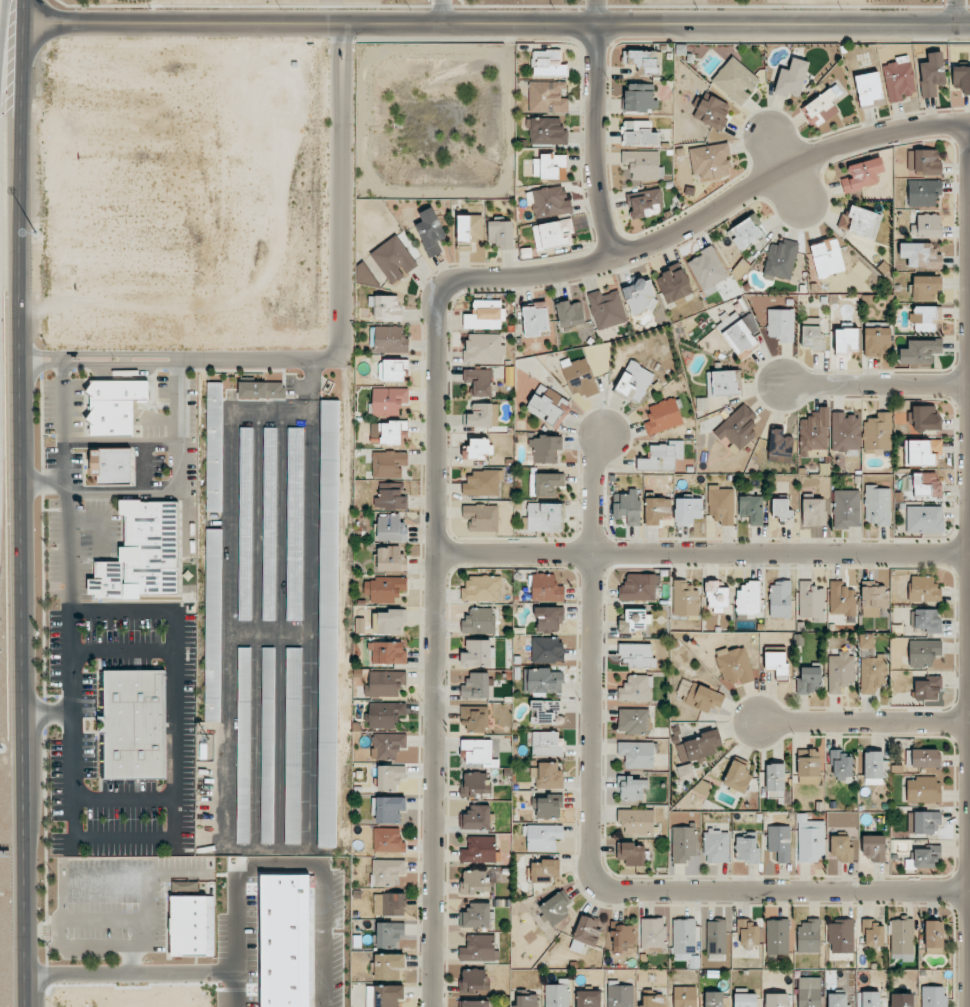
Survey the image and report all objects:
road: (441, 11)
road: (594, 12)
road: (954, 12)
road: (497, 23)
road: (342, 32)
road: (341, 42)
building: (643, 60)
building: (548, 63)
building: (932, 74)
building: (792, 78)
building: (962, 78)
building: (899, 79)
building: (736, 80)
building: (869, 90)
building: (547, 97)
building: (640, 97)
building: (822, 107)
building: (712, 111)
building: (546, 131)
building: (639, 133)
road: (594, 141)
building: (710, 161)
building: (924, 161)
building: (548, 165)
building: (862, 174)
road: (0, 181)
building: (924, 192)
building: (548, 201)
building: (645, 203)
road: (706, 216)
building: (860, 222)
building: (927, 226)
building: (430, 231)
building: (469, 231)
building: (747, 231)
building: (501, 234)
building: (553, 234)
building: (920, 255)
building: (827, 258)
building: (394, 259)
building: (781, 260)
building: (708, 269)
building: (675, 285)
building: (926, 287)
road: (342, 296)
building: (640, 296)
building: (387, 307)
building: (607, 309)
building: (570, 314)
building: (485, 315)
building: (535, 318)
building: (781, 324)
building: (812, 333)
building: (737, 334)
building: (390, 339)
building: (846, 339)
building: (877, 341)
building: (484, 349)
building: (920, 351)
road: (126, 359)
road: (178, 359)
building: (393, 370)
building: (579, 377)
building: (479, 381)
building: (635, 381)
road: (877, 381)
building: (723, 382)
building: (262, 390)
building: (389, 400)
building: (115, 406)
building: (548, 406)
building: (479, 415)
building: (663, 416)
building: (926, 418)
road: (162, 419)
road: (180, 424)
building: (738, 428)
building: (845, 431)
building: (814, 434)
road: (122, 442)
building: (214, 446)
building: (780, 446)
building: (478, 448)
building: (545, 449)
building: (922, 452)
building: (662, 456)
building: (388, 464)
building: (112, 466)
building: (482, 483)
road: (43, 484)
building: (545, 484)
building: (927, 485)
road: (124, 490)
building: (391, 496)
road: (22, 503)
building: (721, 504)
road: (967, 504)
building: (877, 505)
road: (310, 506)
building: (628, 508)
building: (846, 508)
building: (752, 509)
building: (781, 509)
building: (657, 510)
building: (688, 510)
building: (814, 512)
building: (481, 516)
building: (544, 517)
road: (189, 519)
building: (924, 519)
road: (100, 520)
building: (245, 523)
building: (269, 523)
building: (295, 523)
building: (391, 528)
road: (702, 551)
building: (142, 554)
building: (391, 559)
building: (639, 587)
building: (385, 588)
building: (482, 588)
building: (546, 588)
building: (923, 589)
building: (716, 596)
building: (748, 597)
building: (685, 599)
building: (780, 599)
building: (841, 599)
building: (873, 599)
building: (812, 602)
road: (70, 603)
road: (123, 611)
building: (549, 619)
building: (927, 620)
building: (479, 621)
building: (634, 621)
building: (389, 622)
building: (328, 623)
building: (213, 624)
building: (866, 640)
road: (434, 648)
road: (123, 649)
building: (547, 649)
building: (387, 652)
building: (923, 652)
building: (477, 653)
building: (868, 653)
building: (636, 655)
road: (593, 661)
building: (777, 663)
building: (735, 666)
building: (840, 672)
building: (872, 673)
building: (543, 680)
building: (809, 680)
building: (385, 683)
building: (477, 686)
building: (927, 688)
building: (636, 689)
building: (699, 695)
road: (48, 711)
building: (545, 712)
building: (385, 714)
building: (474, 717)
building: (633, 721)
road: (861, 721)
building: (135, 724)
road: (176, 733)
building: (547, 743)
building: (244, 745)
building: (268, 745)
building: (293, 745)
building: (387, 745)
building: (698, 746)
building: (478, 752)
building: (636, 754)
building: (924, 757)
building: (841, 764)
building: (809, 766)
building: (873, 768)
building: (548, 775)
building: (737, 776)
building: (390, 777)
building: (775, 780)
building: (475, 784)
building: (631, 788)
building: (923, 789)
road: (124, 799)
building: (549, 806)
building: (388, 809)
building: (477, 818)
building: (636, 821)
building: (925, 822)
building: (542, 837)
road: (124, 838)
building: (810, 839)
building: (388, 840)
building: (779, 842)
building: (683, 844)
building: (716, 845)
building: (747, 847)
building: (874, 847)
building: (842, 848)
building: (479, 849)
building: (631, 853)
building: (926, 856)
building: (544, 870)
building: (387, 871)
building: (474, 881)
building: (185, 885)
road: (782, 889)
building: (389, 904)
building: (555, 908)
building: (475, 915)
building: (193, 926)
building: (653, 932)
building: (585, 933)
building: (748, 933)
building: (389, 934)
building: (809, 935)
building: (841, 935)
building: (873, 935)
building: (684, 936)
building: (777, 936)
building: (934, 936)
building: (621, 937)
building: (716, 937)
building: (902, 939)
building: (478, 948)
building: (389, 967)
road: (175, 978)
building: (474, 980)
building: (809, 992)
building: (557, 994)
building: (384, 995)
building: (620, 996)
building: (684, 996)
building: (933, 996)
building: (589, 998)
building: (714, 999)
building: (871, 999)
building: (745, 1000)
building: (777, 1000)
building: (837, 1000)
building: (902, 1000)
building: (527, 1001)
building: (653, 1001)
building: (474, 1003)

